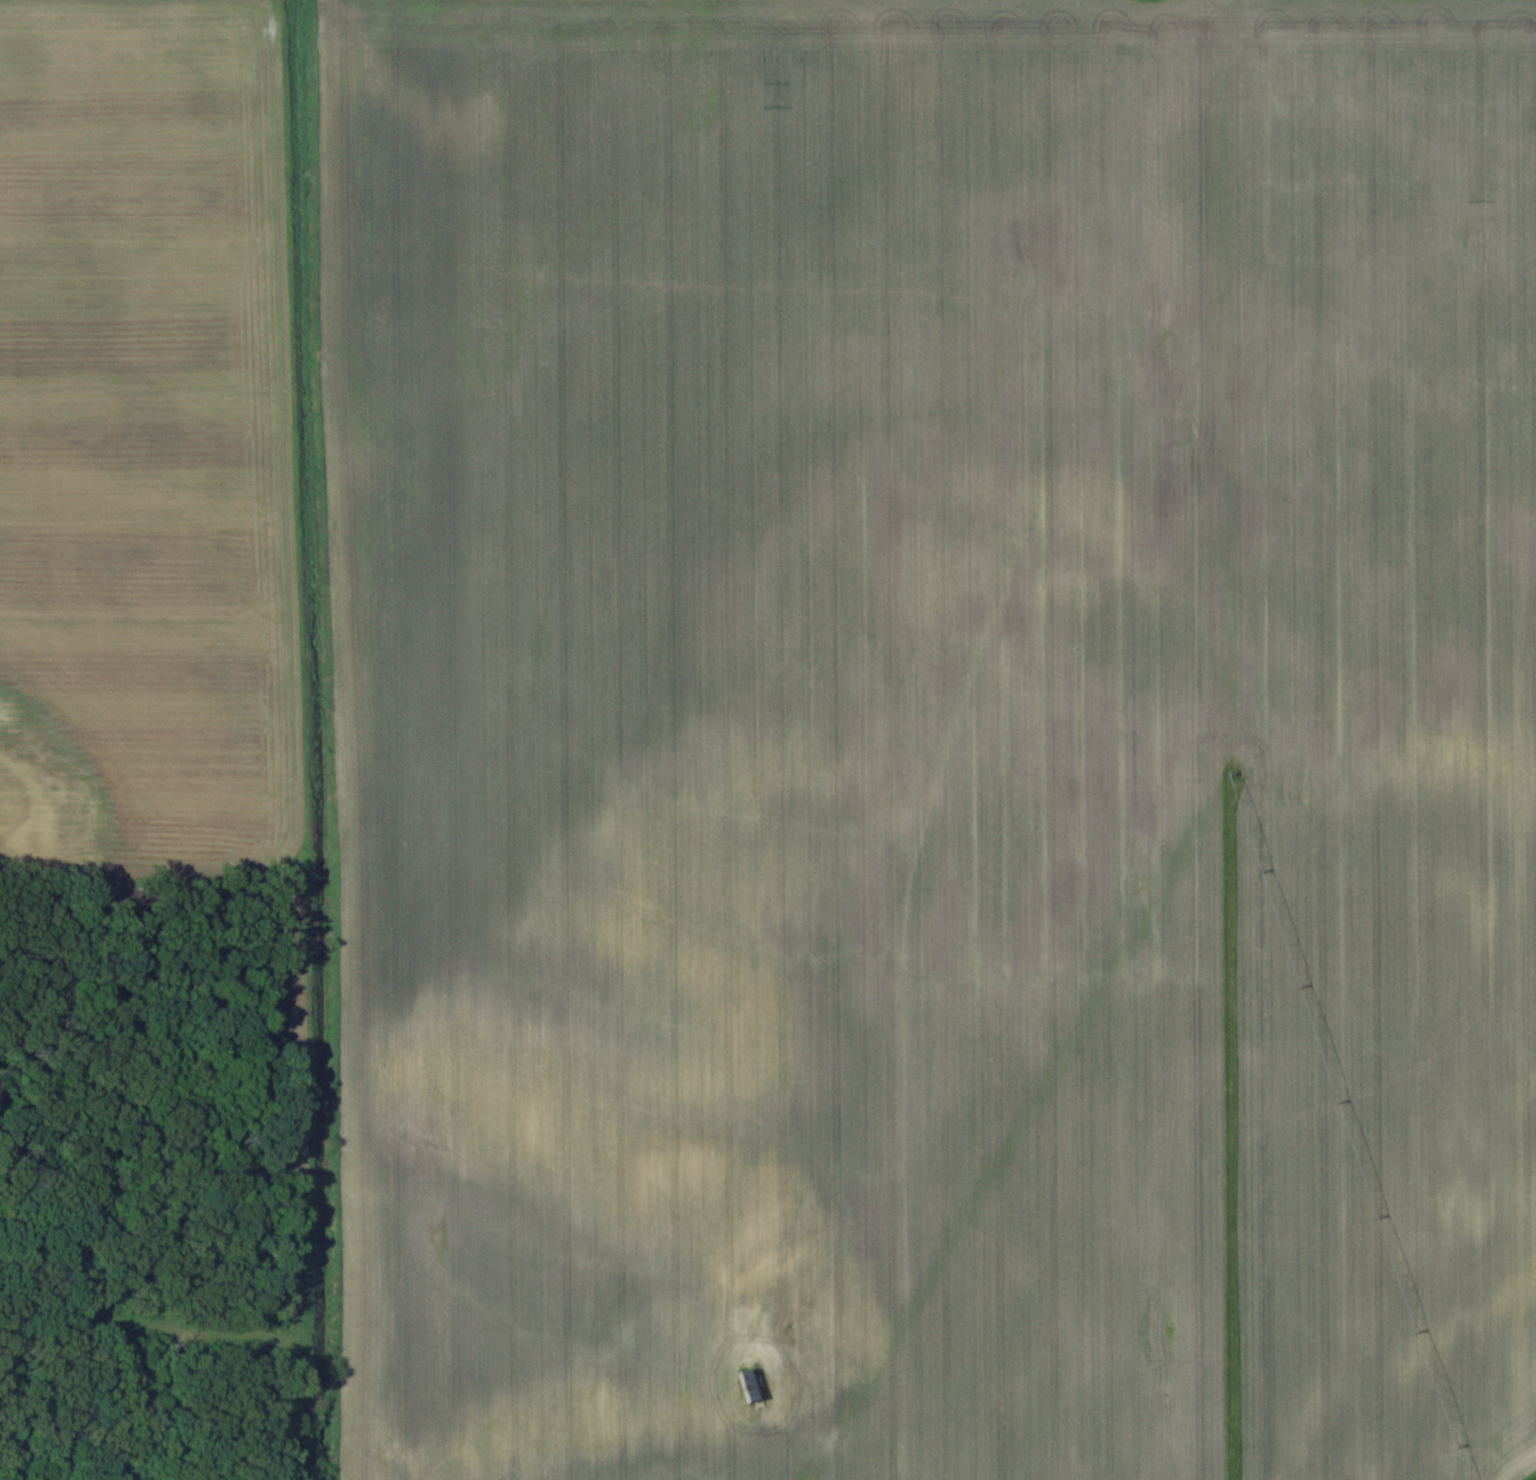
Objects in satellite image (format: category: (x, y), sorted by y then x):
building: (753, 1386)

